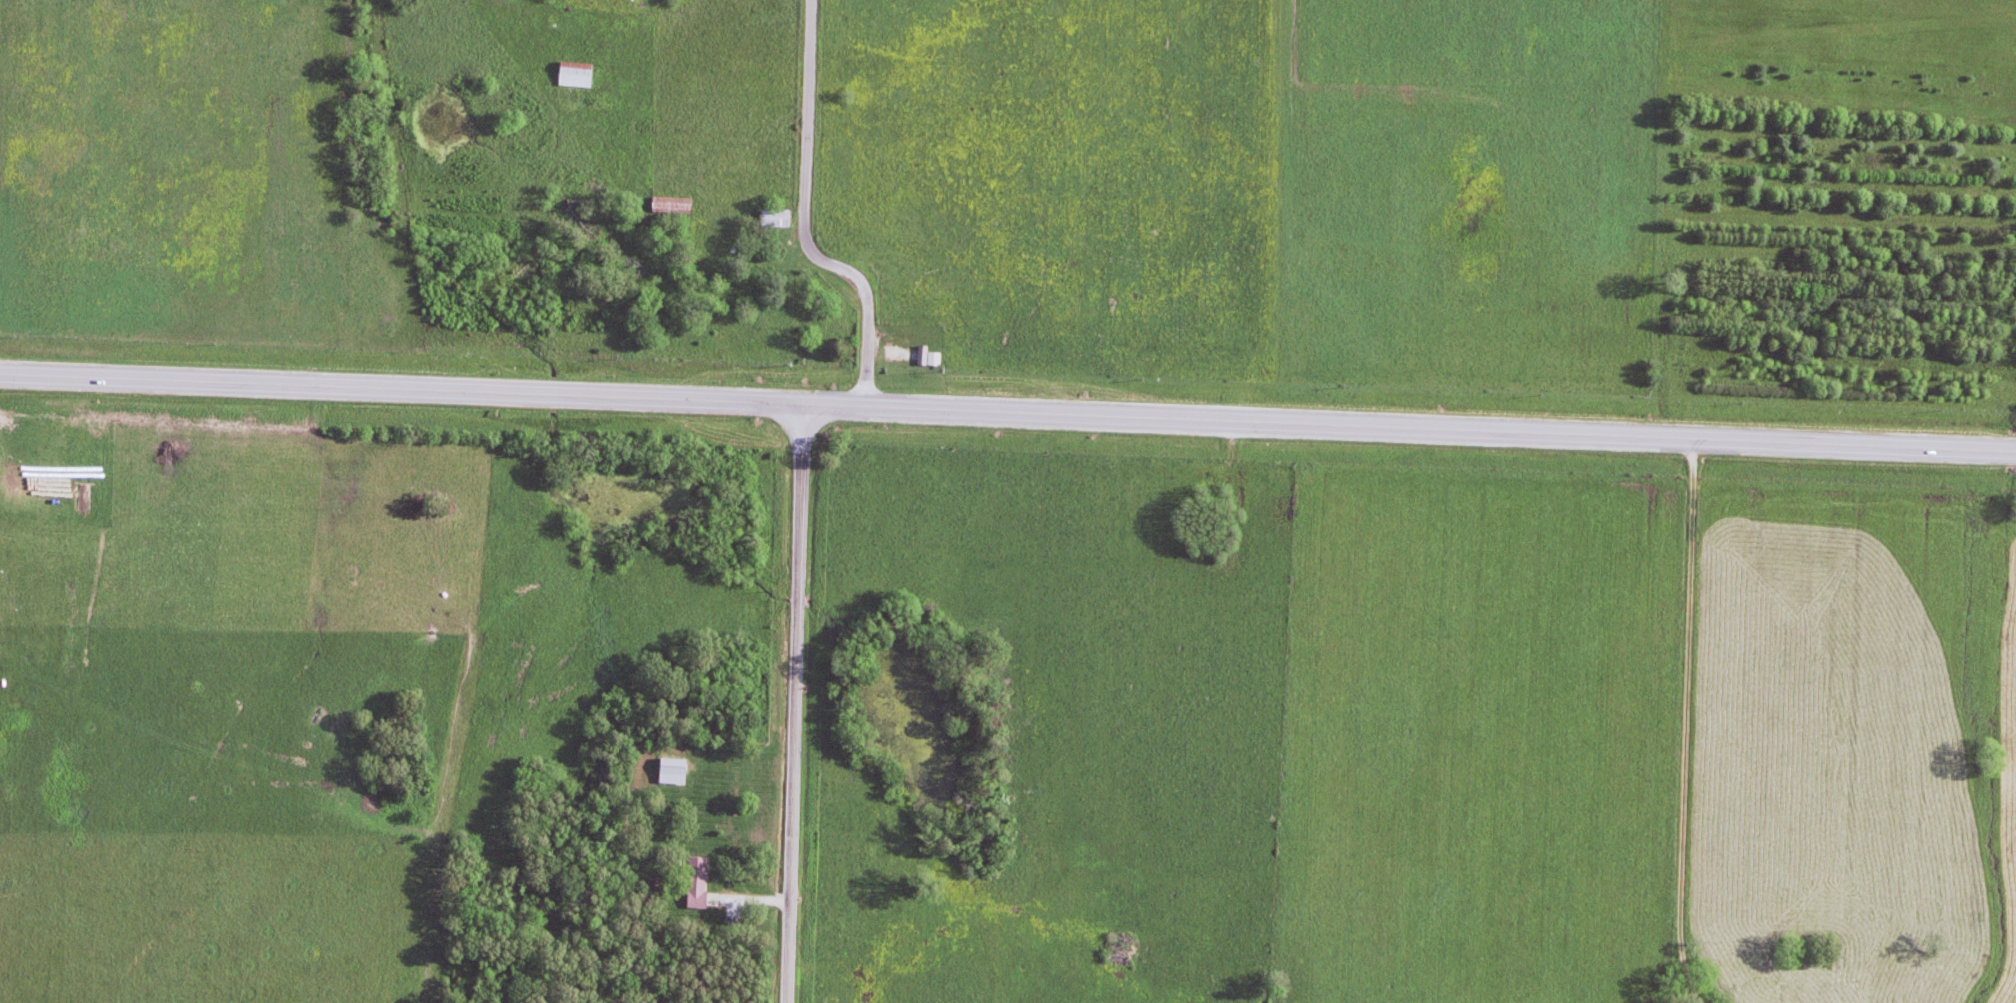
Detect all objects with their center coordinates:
building: (573, 72)
road: (801, 126)
road: (862, 315)
road: (398, 392)
road: (1406, 431)
road: (790, 705)
road: (1679, 723)
building: (670, 769)
building: (694, 880)

